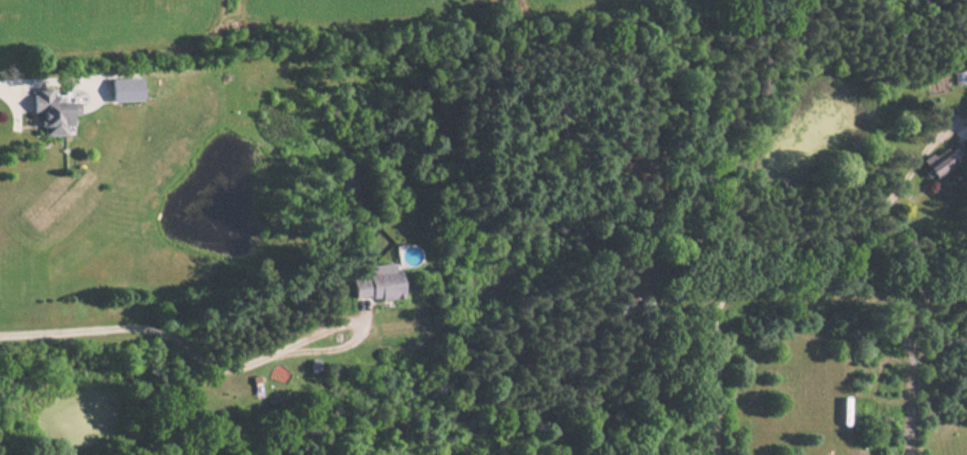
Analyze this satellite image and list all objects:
building: (125, 88)
building: (53, 113)
building: (963, 142)
building: (939, 163)
building: (376, 284)
road: (155, 327)
road: (357, 329)

